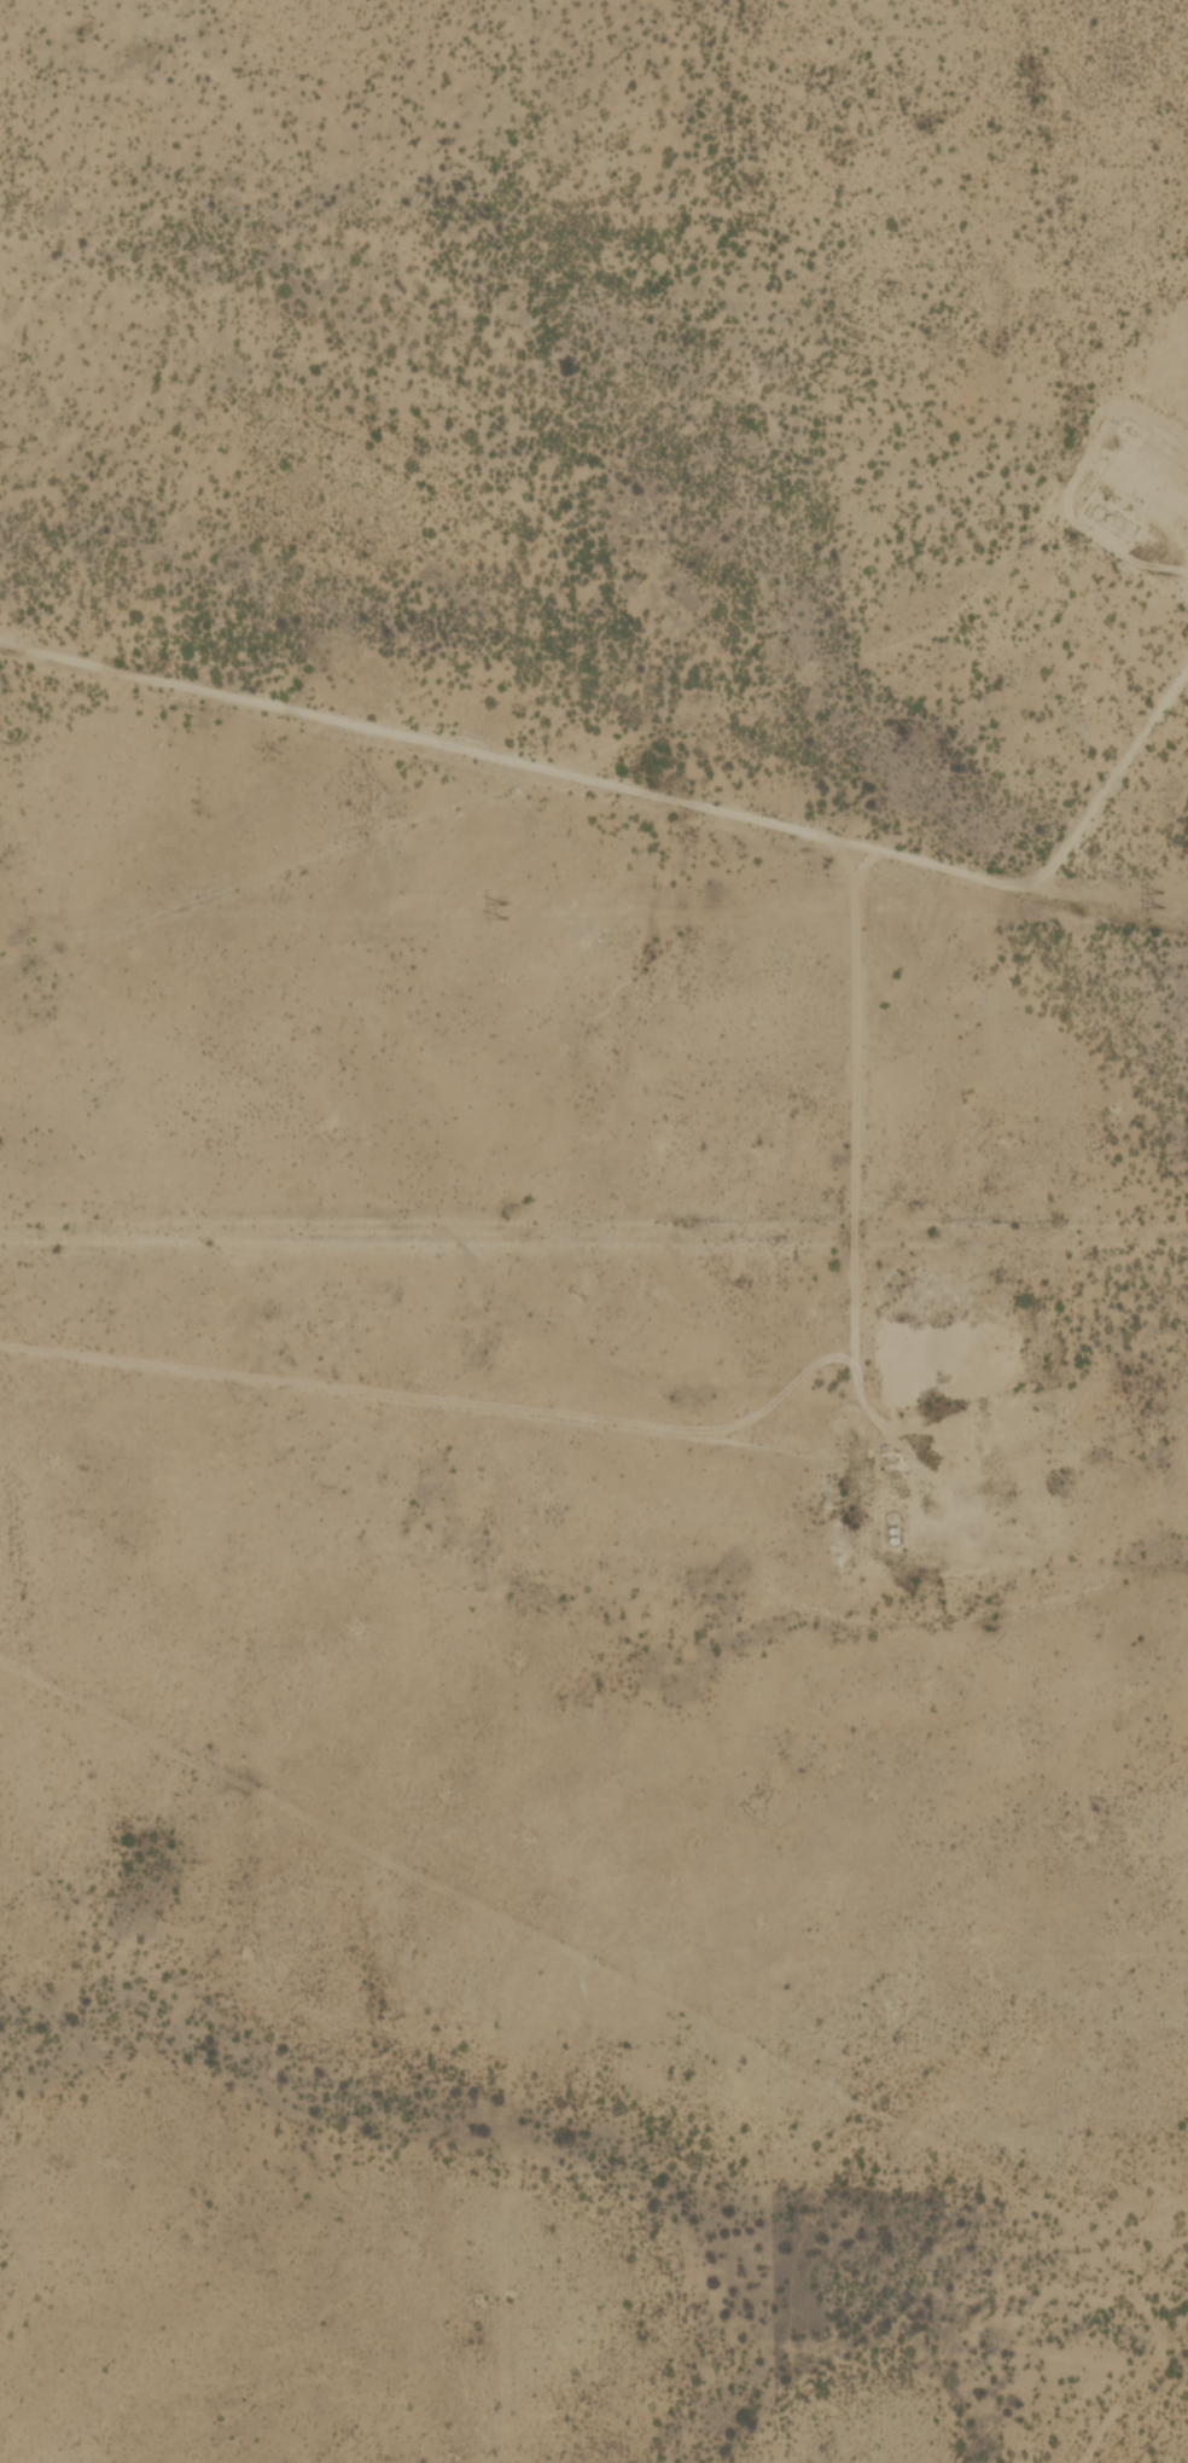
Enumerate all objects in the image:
road: (1111, 778)
road: (596, 779)
power tower: (1158, 899)
power tower: (502, 910)
road: (822, 1201)
road: (1096, 2219)

